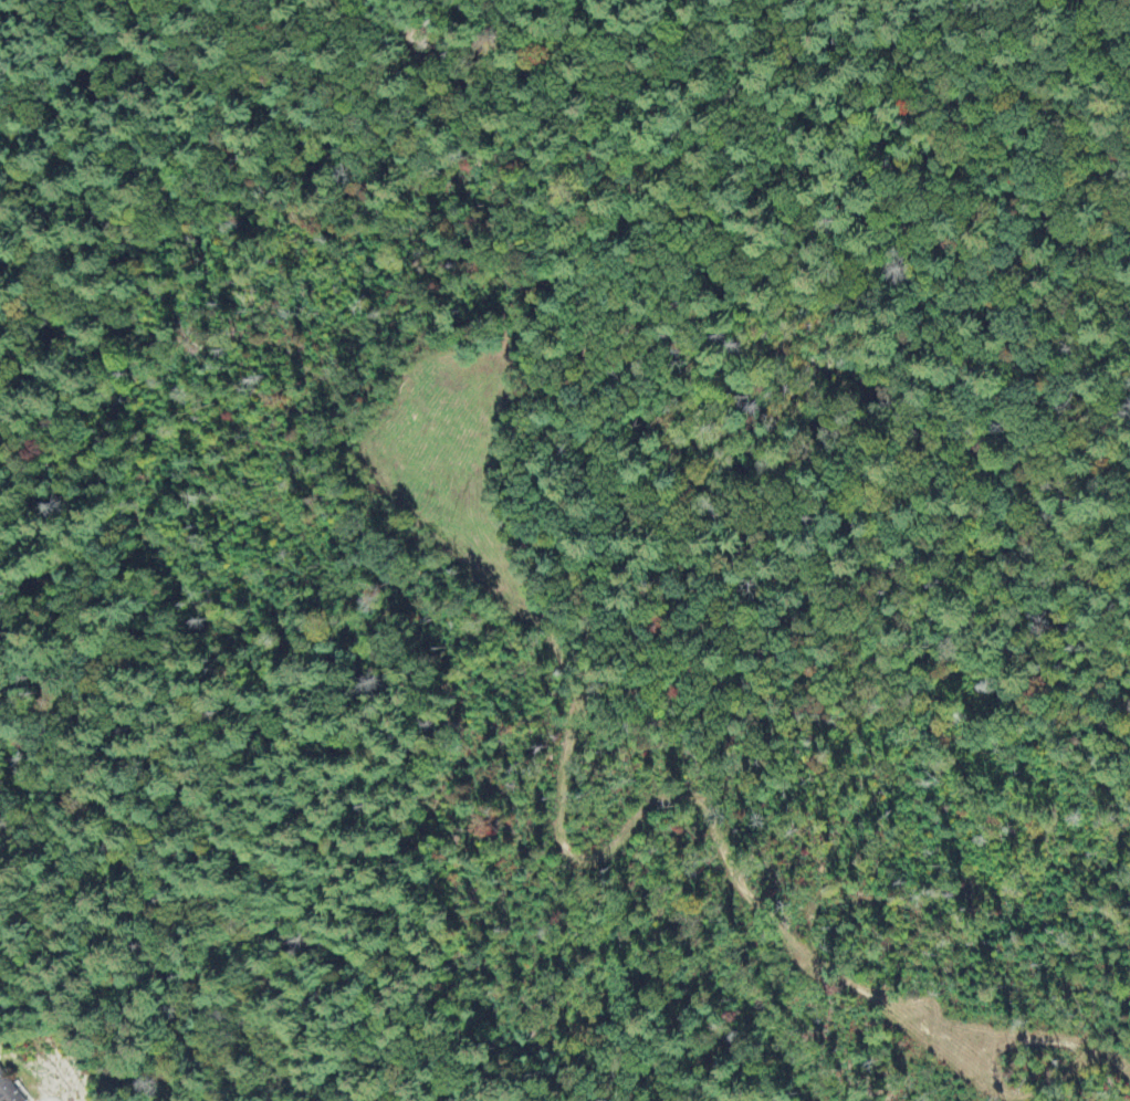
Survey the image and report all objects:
road: (572, 733)
building: (7, 1091)

